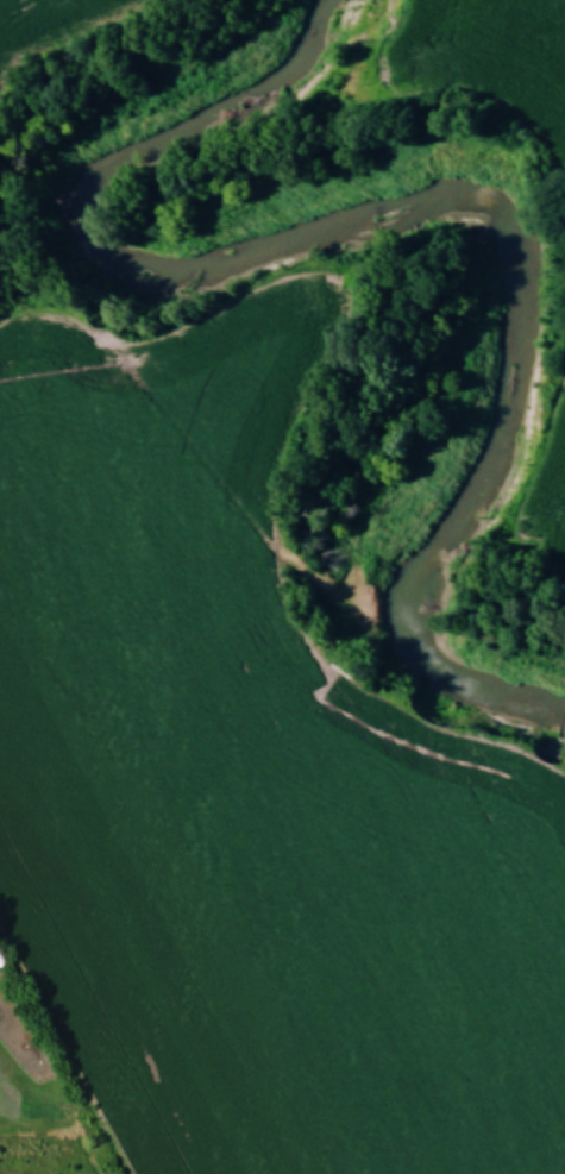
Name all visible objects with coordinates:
river: (213, 102)
river: (516, 275)

